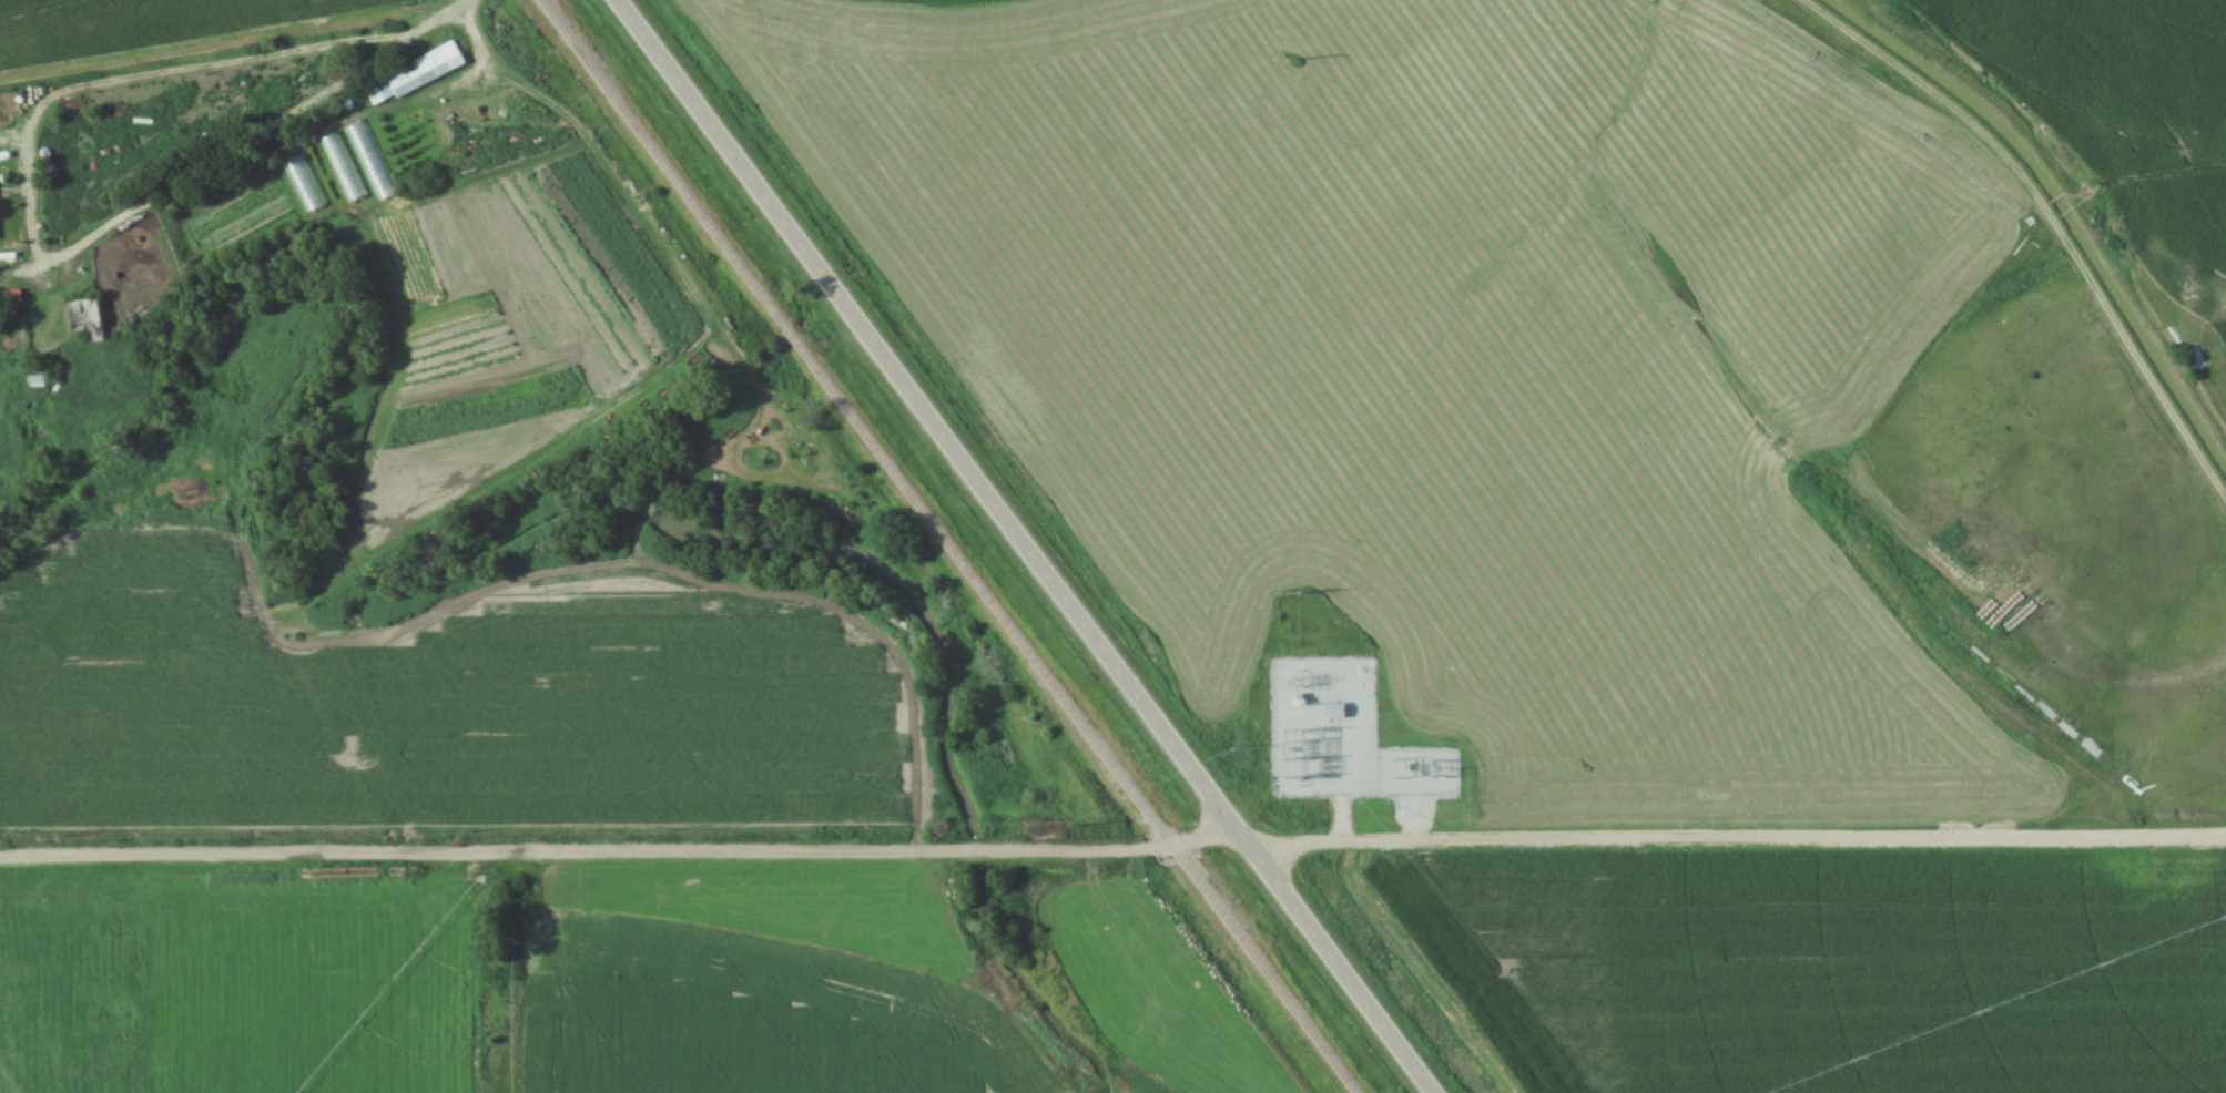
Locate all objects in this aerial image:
road: (435, 20)
power tower: (1294, 60)
building: (413, 73)
building: (304, 184)
road: (27, 214)
building: (82, 316)
building: (2196, 360)
railway: (945, 545)
road: (1015, 546)
power tower: (1299, 592)
power tower: (1300, 682)
building: (1334, 712)
power substation: (1343, 737)
road: (1355, 788)
road: (1112, 850)
building: (13, 975)
building: (119, 994)
building: (101, 1064)
building: (61, 1068)

